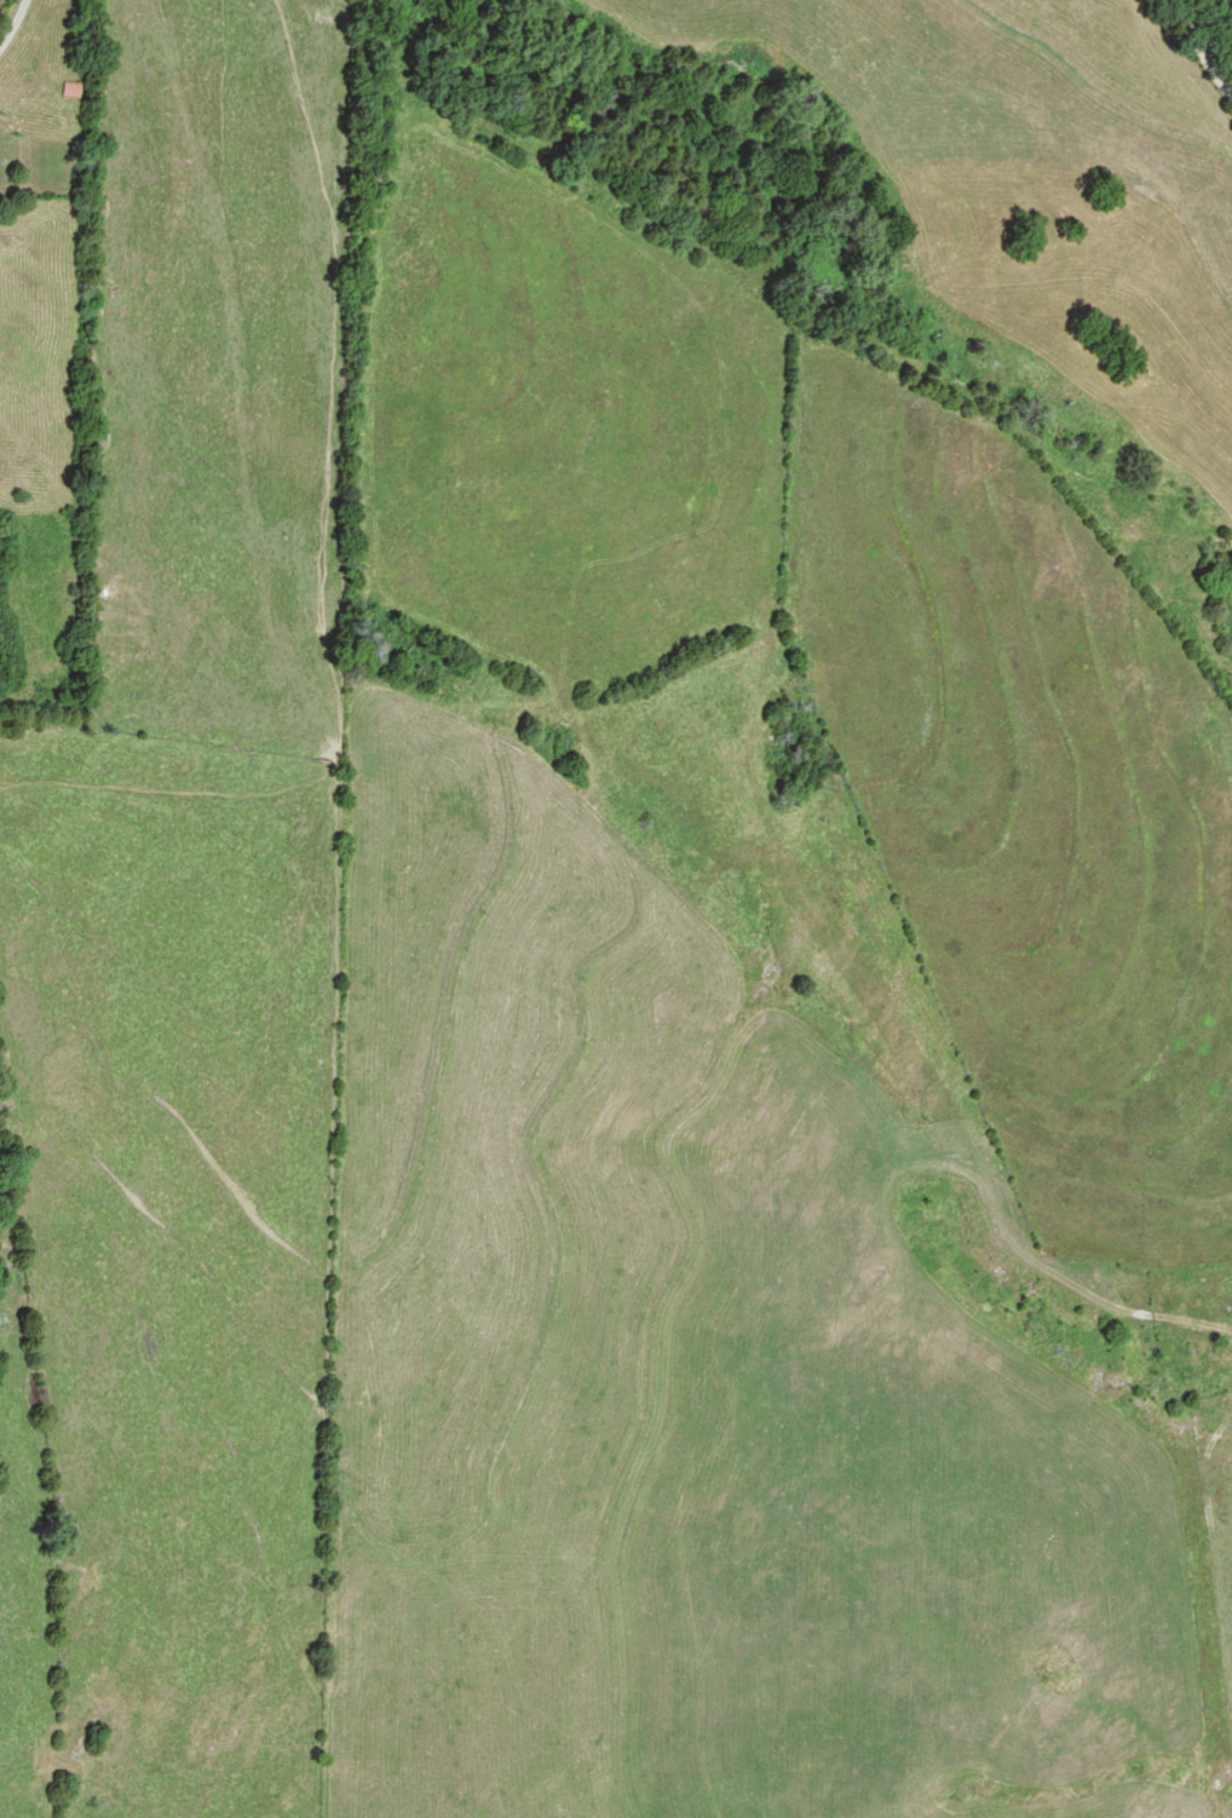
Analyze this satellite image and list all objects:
road: (1187, 67)
building: (69, 91)

